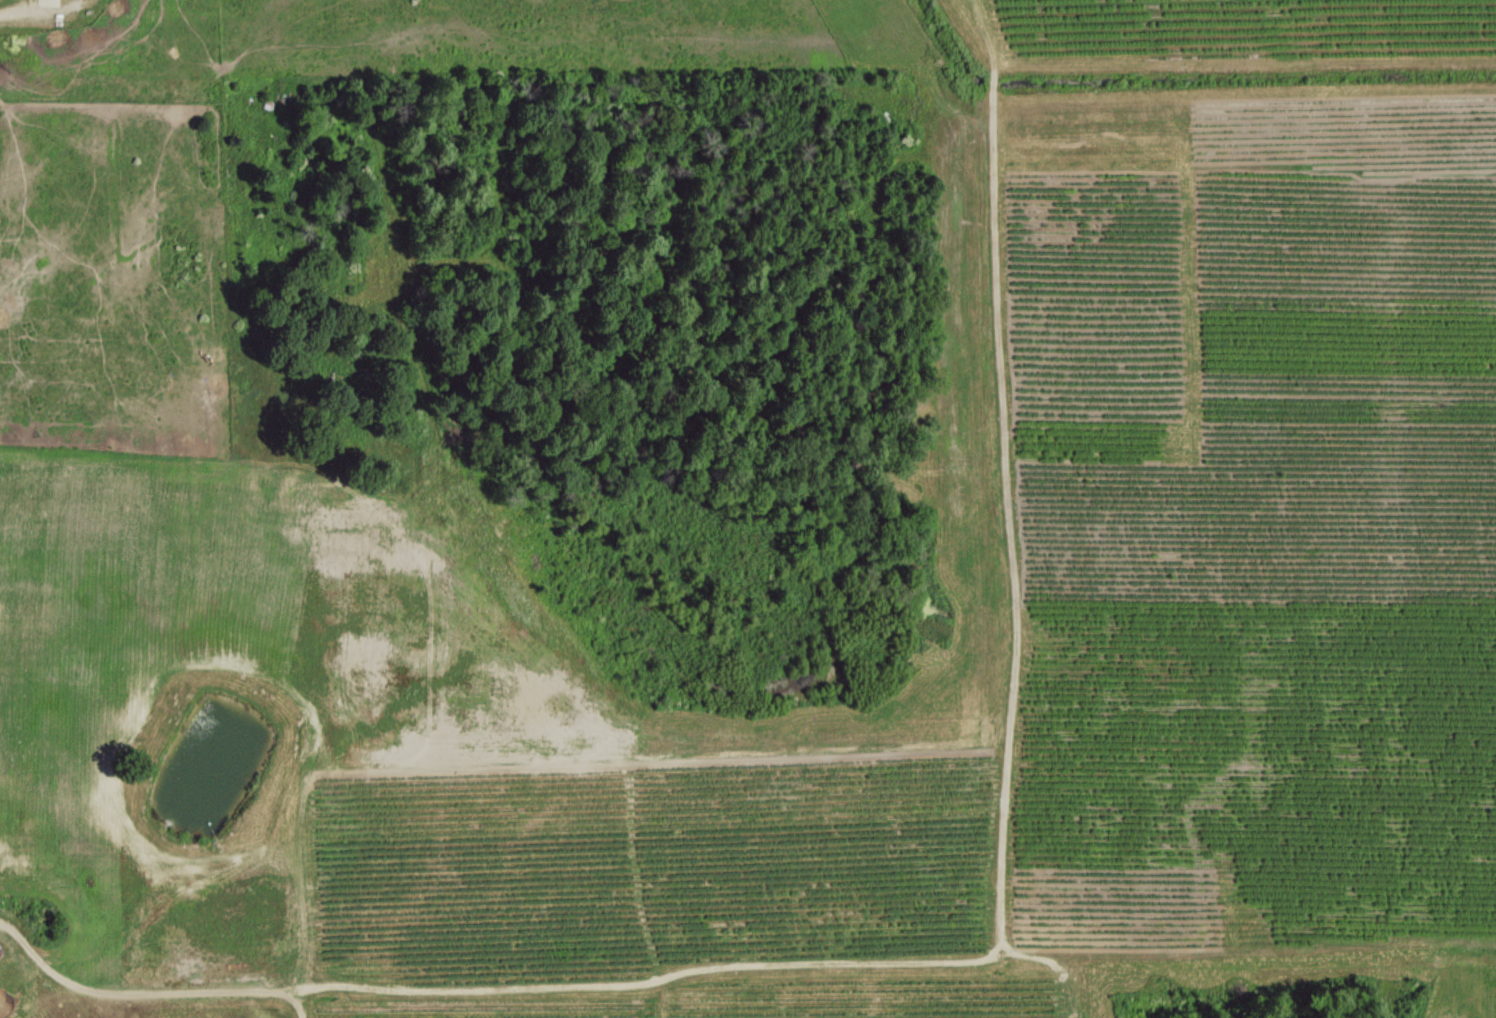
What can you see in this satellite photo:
road: (964, 956)

